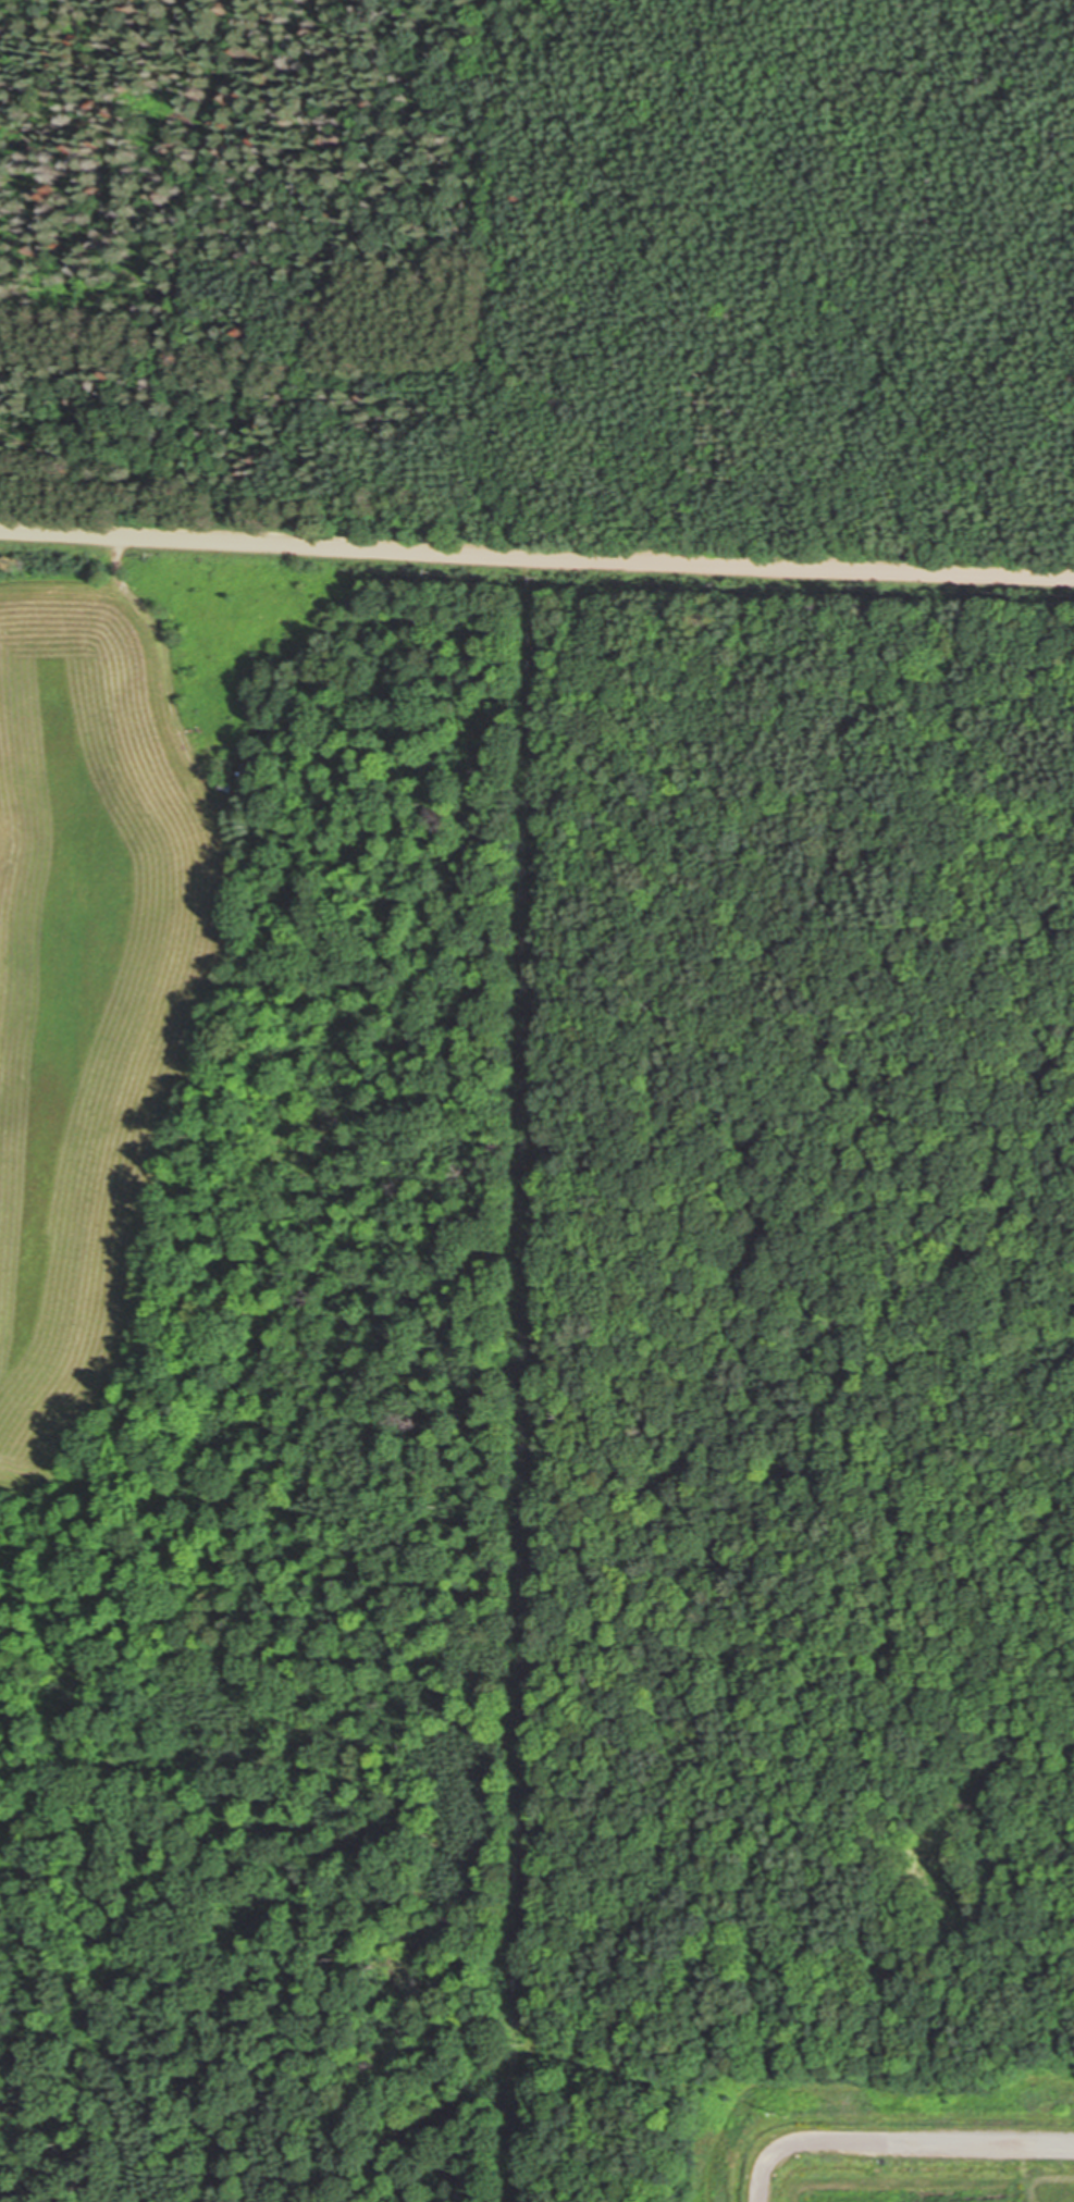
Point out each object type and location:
road: (536, 557)
building: (245, 774)
road: (527, 1387)
landfill: (908, 2130)
road: (899, 2143)

